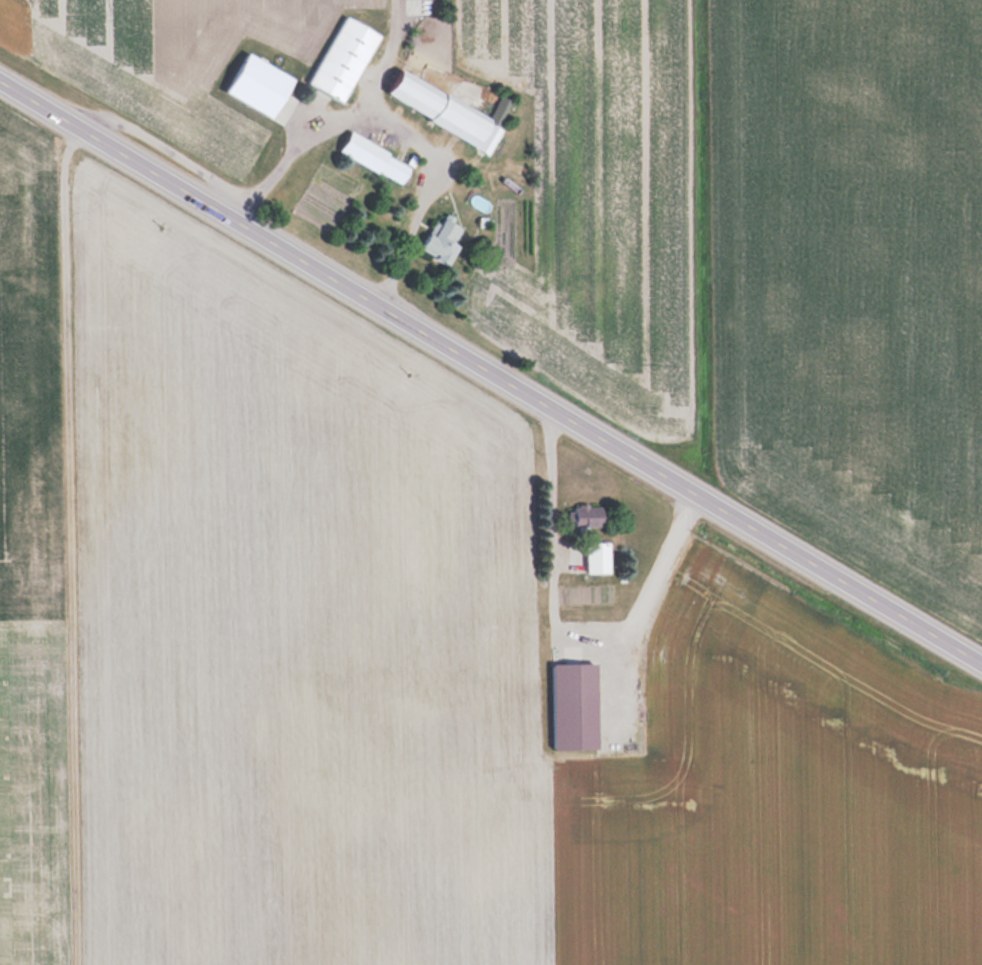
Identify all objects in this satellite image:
building: (343, 58)
building: (445, 110)
road: (393, 119)
building: (375, 157)
building: (443, 238)
road: (491, 374)
building: (588, 515)
building: (598, 556)
building: (575, 706)

